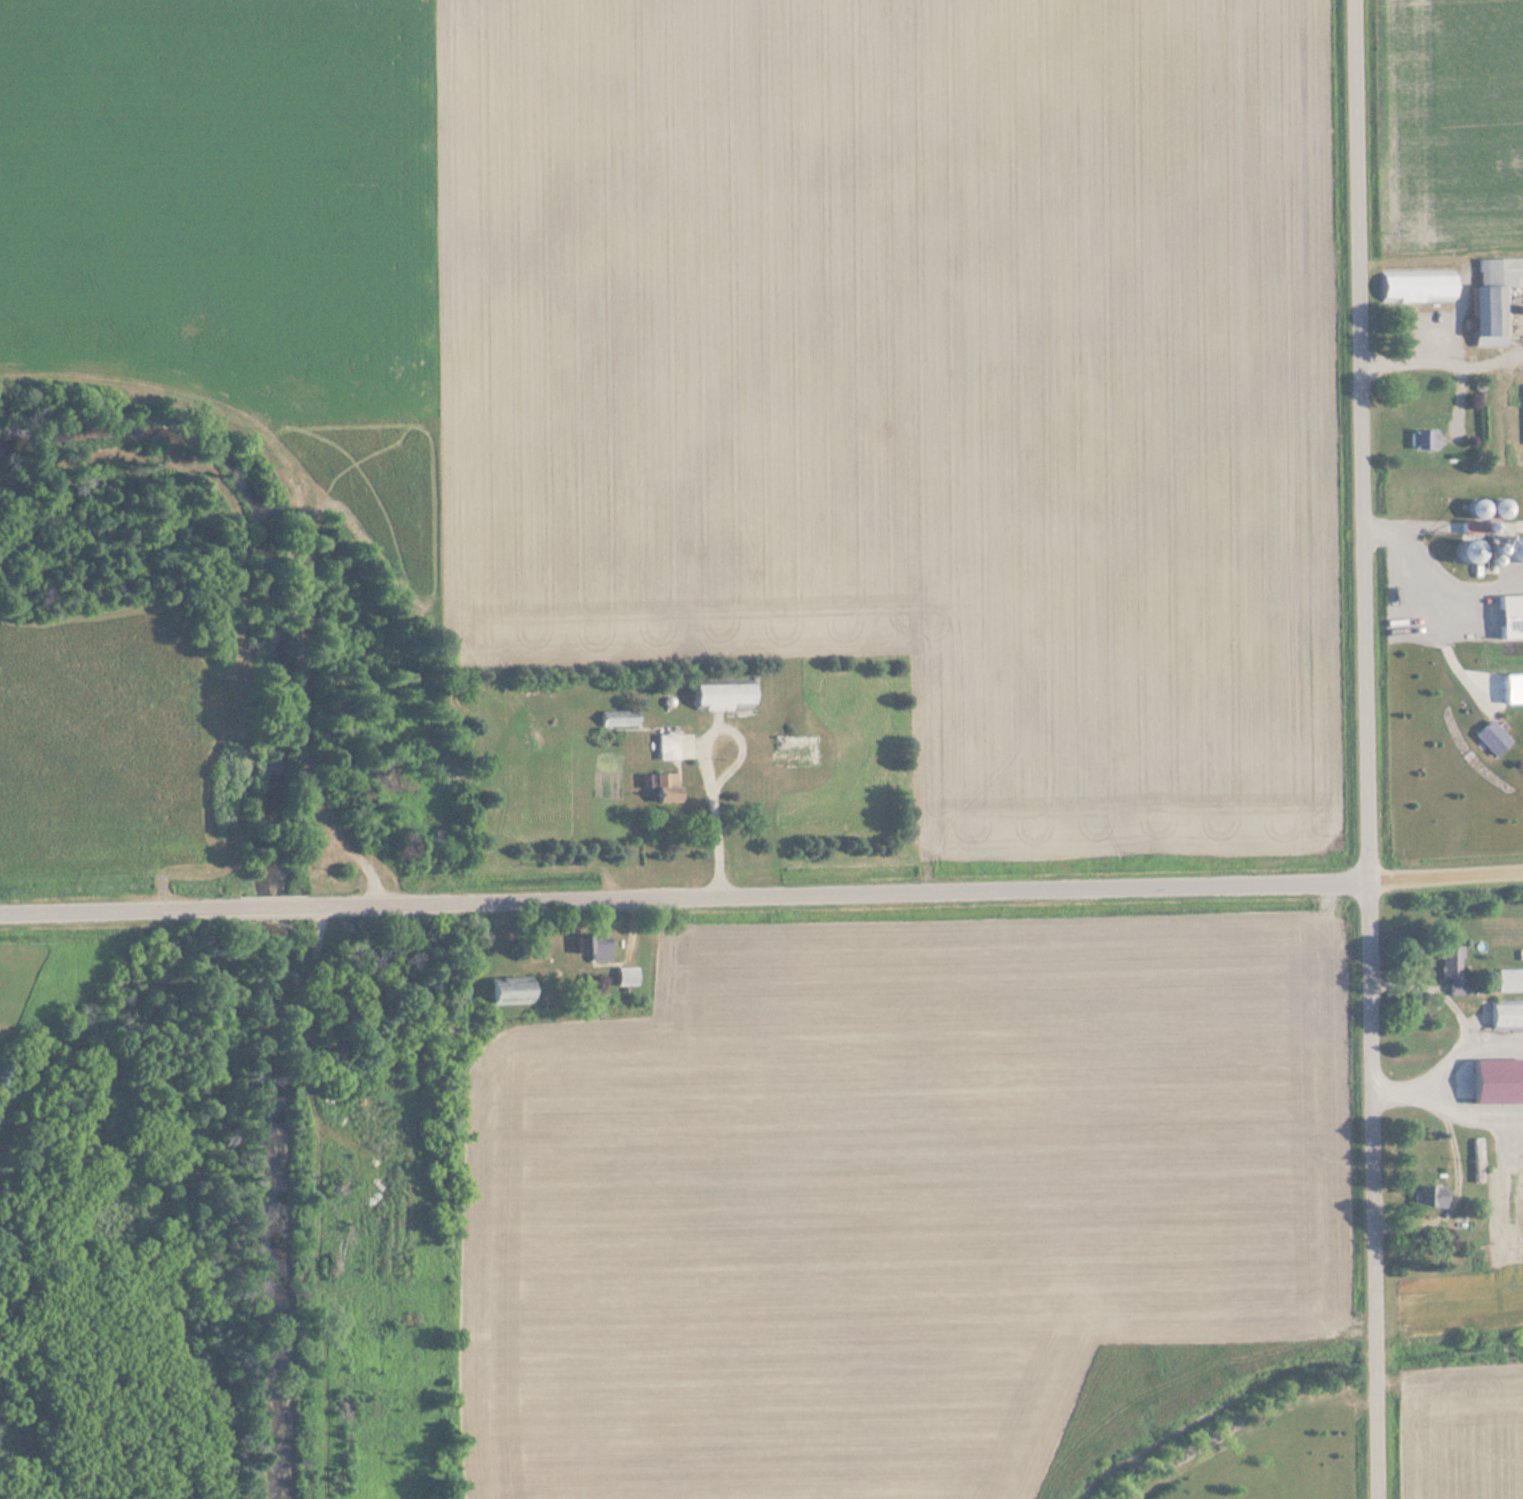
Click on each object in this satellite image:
building: (1417, 286)
building: (1493, 298)
building: (1425, 439)
road: (1364, 440)
building: (1511, 617)
building: (724, 696)
building: (618, 718)
building: (1491, 737)
building: (667, 746)
building: (798, 751)
building: (666, 787)
river: (267, 857)
road: (1447, 875)
road: (685, 894)
building: (592, 945)
building: (1452, 969)
building: (625, 976)
building: (1509, 980)
building: (510, 992)
building: (1509, 1017)
building: (1481, 1087)
building: (1477, 1152)
road: (1376, 1189)
building: (1428, 1198)

